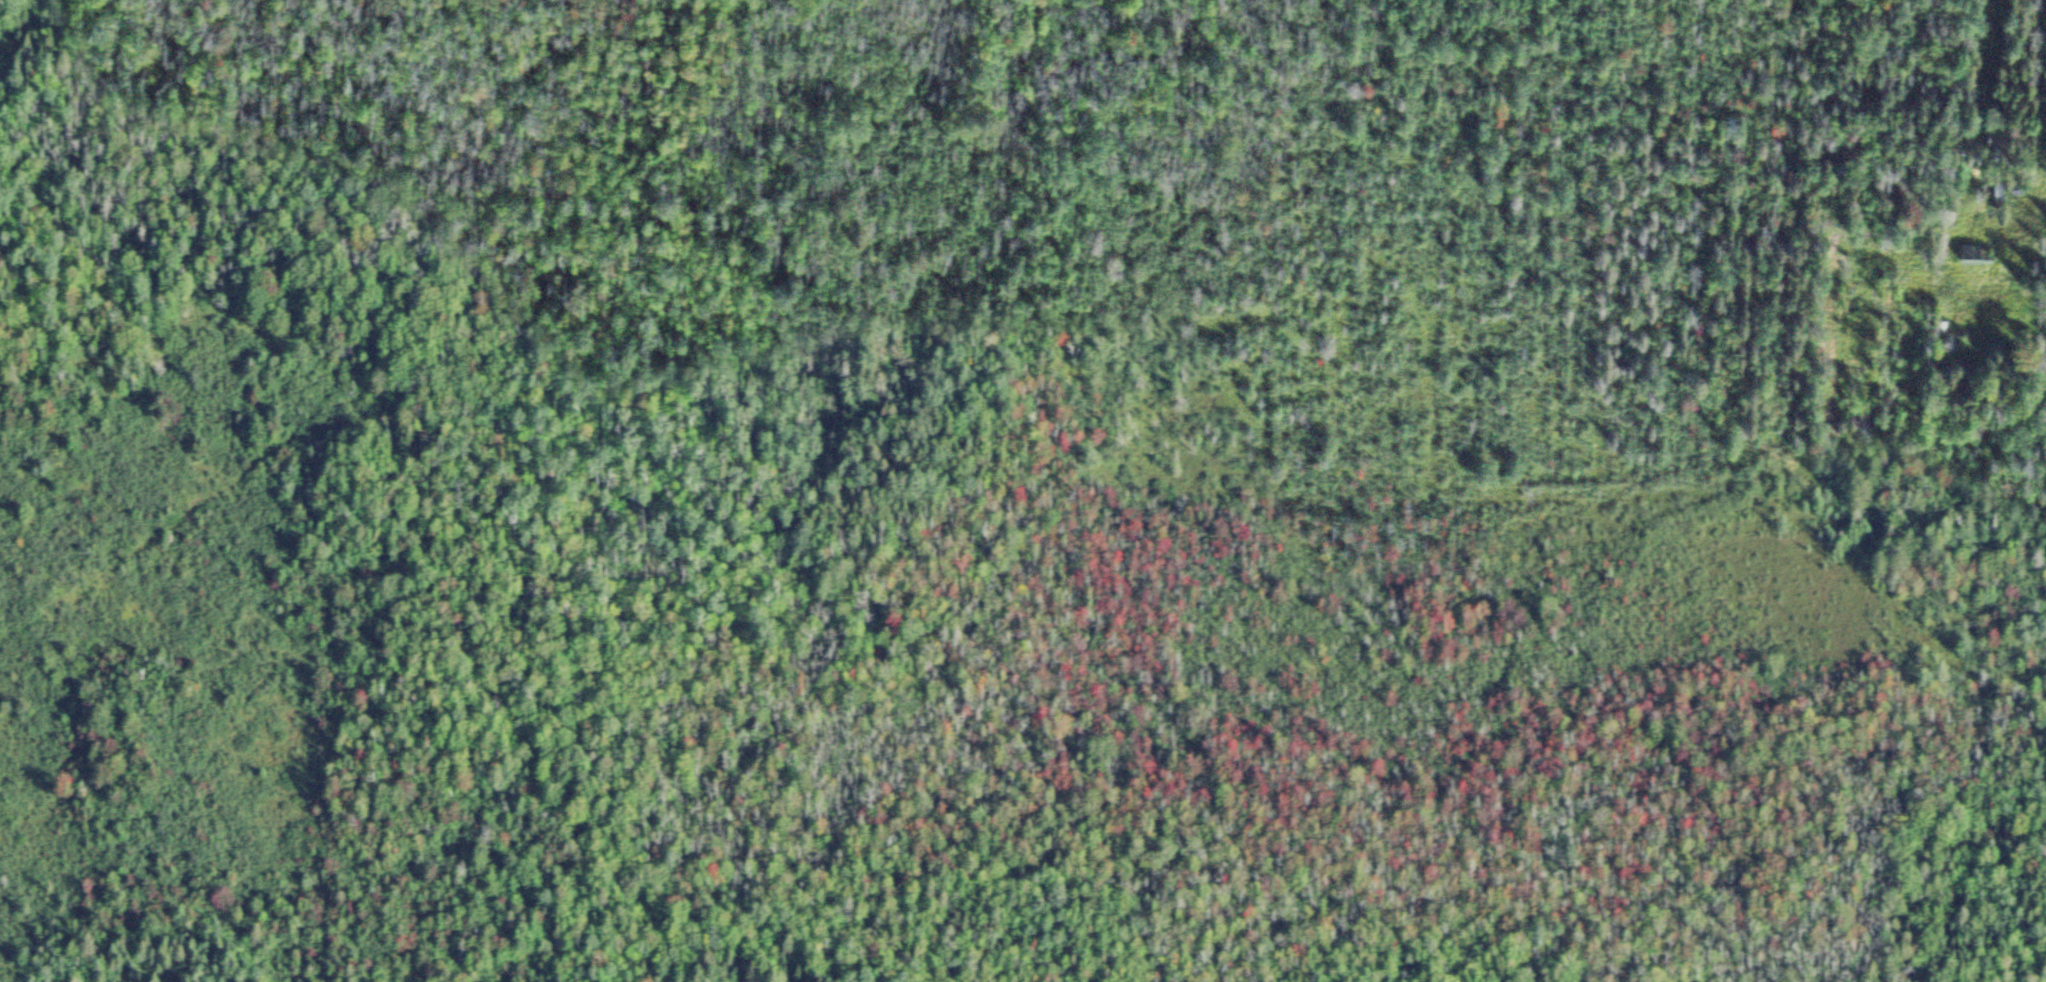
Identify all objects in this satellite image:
road: (2024, 87)

